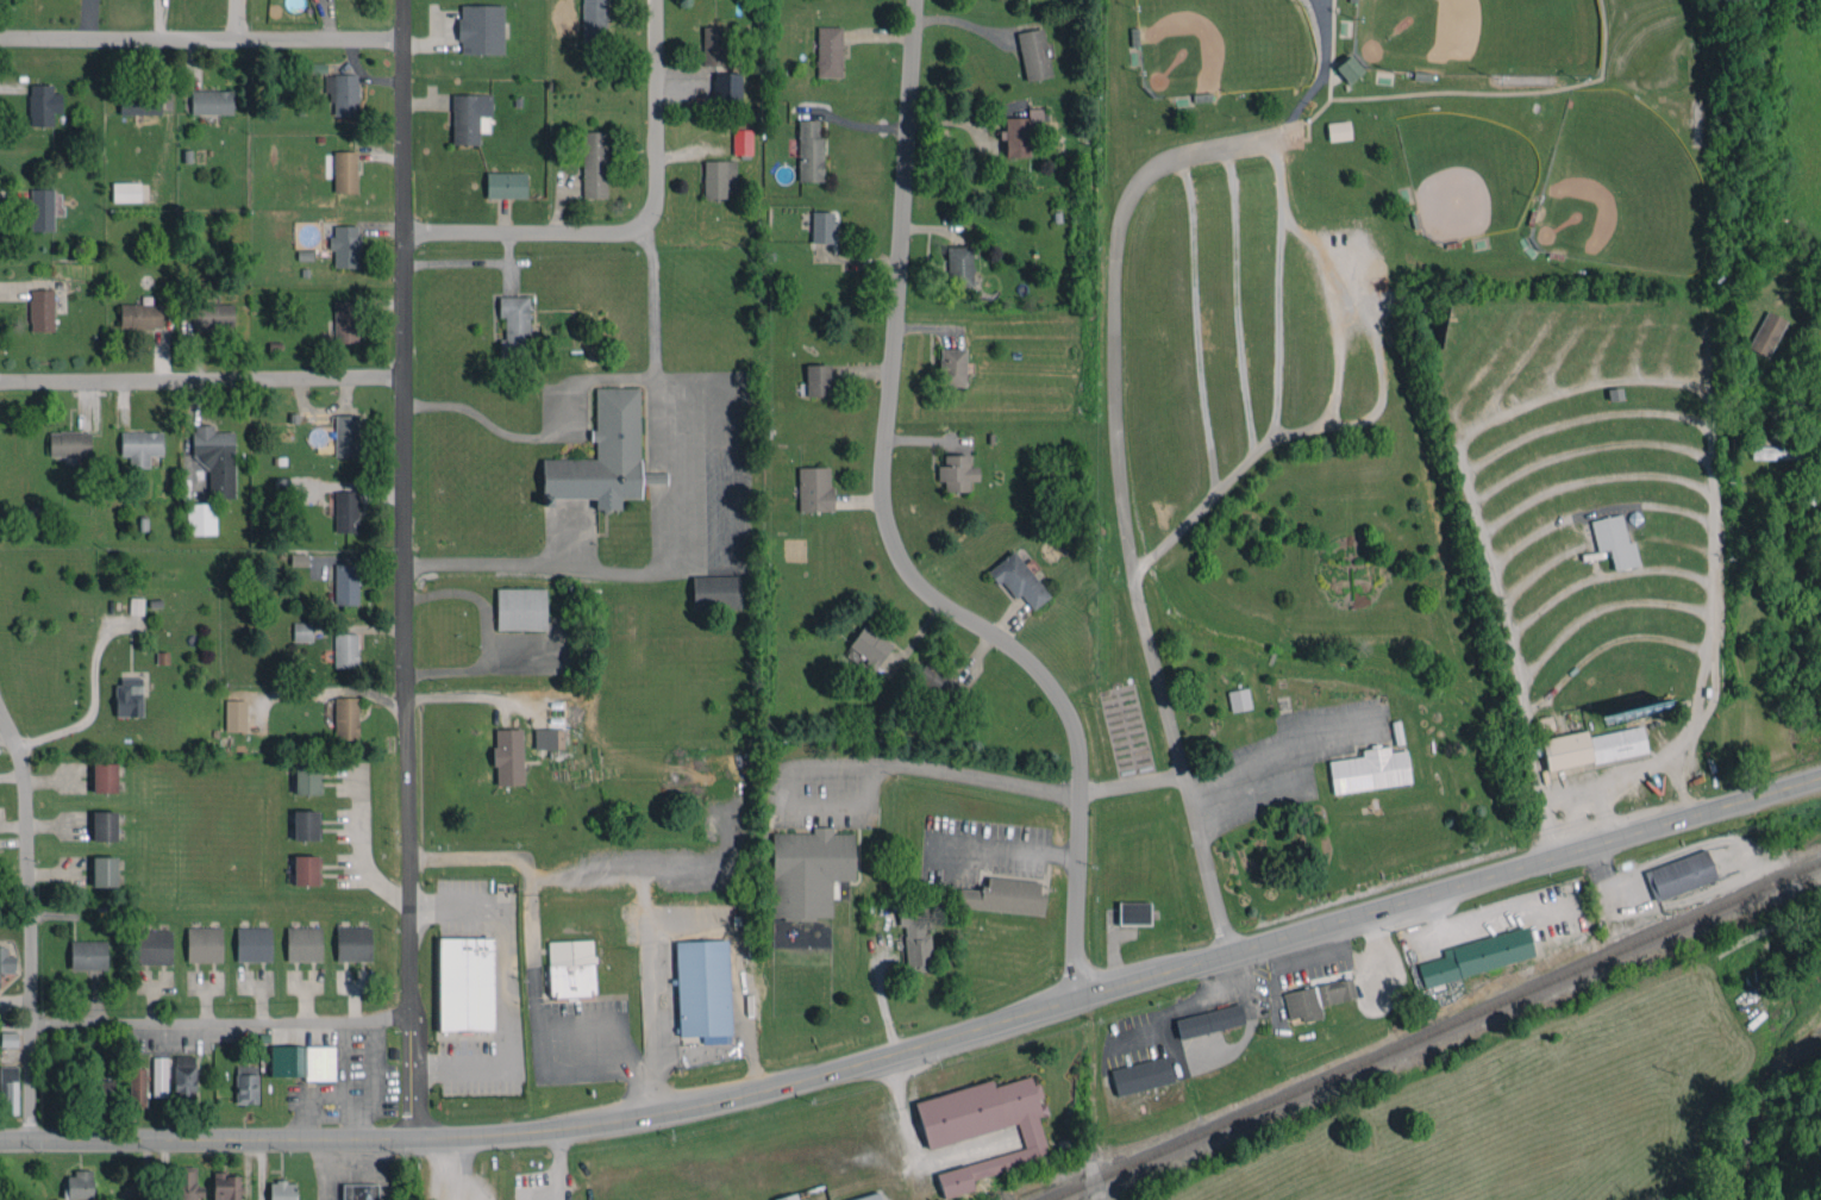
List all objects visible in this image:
building: (594, 20)
building: (481, 29)
park: (1477, 35)
road: (201, 39)
building: (713, 45)
park: (1224, 45)
building: (828, 51)
building: (1033, 54)
building: (1348, 68)
road: (1318, 76)
building: (726, 87)
building: (343, 93)
building: (211, 101)
building: (139, 102)
building: (43, 104)
building: (468, 117)
building: (1338, 130)
building: (1021, 132)
building: (741, 142)
building: (809, 151)
building: (594, 164)
building: (345, 170)
building: (718, 177)
building: (506, 185)
park: (1621, 187)
building: (126, 192)
building: (42, 208)
building: (821, 226)
road: (638, 227)
building: (345, 245)
building: (959, 265)
road: (1235, 302)
building: (42, 310)
building: (140, 314)
building: (212, 317)
building: (345, 321)
building: (513, 325)
road: (1196, 325)
road: (1276, 326)
building: (1765, 333)
road: (1338, 354)
building: (951, 367)
road: (583, 377)
road: (201, 379)
building: (816, 380)
road: (1375, 408)
building: (346, 436)
building: (69, 443)
building: (140, 446)
building: (1779, 451)
building: (603, 456)
building: (215, 458)
building: (956, 473)
building: (814, 488)
road: (1124, 493)
building: (346, 511)
road: (730, 517)
building: (200, 518)
road: (893, 537)
building: (1615, 540)
building: (299, 558)
road: (482, 562)
road: (403, 568)
building: (1018, 580)
building: (346, 583)
building: (715, 592)
building: (136, 605)
building: (520, 608)
building: (302, 631)
building: (869, 645)
building: (345, 650)
building: (937, 681)
road: (469, 693)
building: (129, 696)
road: (92, 699)
building: (1239, 699)
building: (236, 714)
building: (345, 718)
building: (549, 738)
building: (1591, 746)
building: (508, 756)
building: (1370, 769)
road: (935, 770)
building: (105, 777)
building: (307, 779)
road: (1131, 781)
building: (306, 824)
building: (104, 825)
road: (362, 848)
road: (1002, 848)
road: (26, 864)
building: (306, 869)
building: (104, 870)
building: (808, 870)
building: (1681, 874)
building: (1003, 895)
building: (1133, 912)
road: (699, 920)
building: (915, 937)
building: (254, 943)
building: (303, 943)
building: (353, 943)
building: (204, 944)
building: (154, 946)
building: (88, 955)
building: (1477, 955)
building: (6, 961)
building: (571, 968)
building: (465, 983)
road: (506, 985)
building: (703, 989)
building: (1316, 998)
road: (882, 1001)
road: (571, 1020)
building: (1209, 1020)
road: (220, 1021)
railway: (1438, 1026)
building: (8, 1038)
road: (924, 1044)
building: (302, 1061)
building: (1141, 1075)
building: (159, 1076)
building: (184, 1076)
road: (30, 1080)
building: (245, 1083)
building: (137, 1086)
building: (8, 1088)
building: (101, 1094)
building: (983, 1126)
road: (557, 1163)
road: (445, 1168)
building: (183, 1183)
building: (79, 1185)
building: (226, 1186)
building: (282, 1190)
building: (359, 1192)
building: (788, 1196)
building: (869, 1196)

